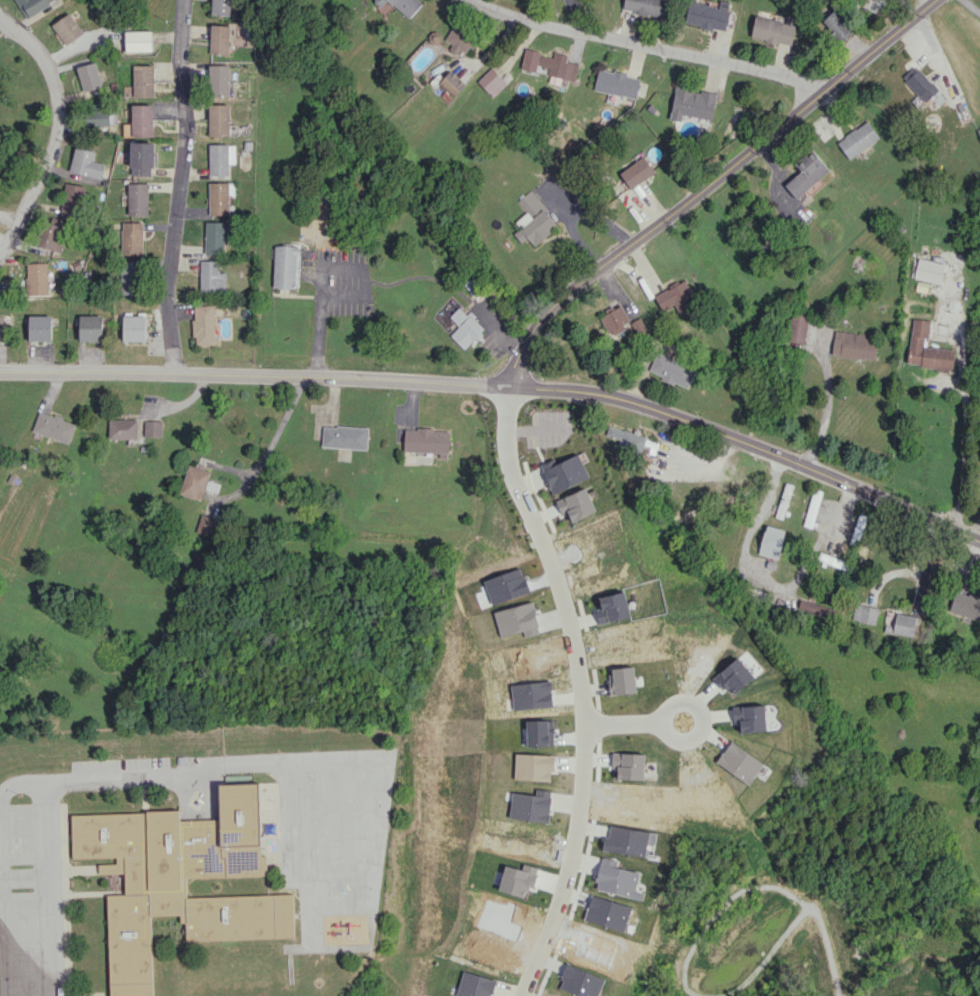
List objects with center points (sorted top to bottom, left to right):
building: (380, 2)
building: (34, 5)
road: (971, 5)
building: (406, 6)
building: (646, 6)
building: (870, 6)
building: (220, 7)
building: (706, 16)
building: (836, 26)
building: (67, 28)
building: (772, 30)
building: (218, 39)
building: (459, 39)
building: (137, 40)
road: (645, 47)
building: (549, 63)
building: (88, 76)
building: (142, 80)
building: (219, 80)
building: (491, 81)
building: (451, 83)
building: (617, 83)
building: (920, 83)
building: (692, 103)
building: (97, 114)
building: (218, 119)
building: (141, 120)
road: (55, 129)
building: (978, 129)
building: (857, 139)
building: (141, 158)
building: (220, 158)
building: (85, 163)
building: (631, 174)
building: (806, 174)
road: (708, 183)
road: (179, 185)
building: (137, 198)
building: (218, 198)
building: (71, 200)
building: (534, 220)
building: (51, 236)
building: (215, 237)
building: (131, 238)
building: (286, 266)
building: (929, 270)
road: (330, 271)
building: (130, 277)
building: (211, 277)
building: (36, 278)
building: (474, 286)
building: (676, 297)
building: (618, 322)
building: (203, 324)
building: (3, 327)
building: (90, 327)
building: (134, 327)
building: (465, 327)
building: (797, 327)
building: (39, 328)
building: (854, 344)
building: (926, 349)
building: (672, 370)
road: (254, 374)
road: (826, 408)
building: (54, 427)
building: (122, 428)
building: (153, 428)
building: (345, 437)
building: (627, 437)
building: (426, 440)
road: (749, 444)
road: (269, 445)
road: (960, 456)
building: (564, 472)
building: (194, 481)
building: (783, 500)
building: (576, 504)
building: (812, 508)
building: (205, 525)
building: (771, 541)
road: (923, 568)
road: (768, 582)
road: (924, 588)
building: (965, 605)
building: (612, 607)
building: (814, 608)
building: (864, 613)
building: (890, 617)
building: (517, 619)
building: (902, 624)
road: (572, 690)
building: (531, 695)
road: (635, 706)
building: (750, 717)
building: (739, 762)
building: (533, 767)
road: (96, 778)
building: (530, 805)
building: (625, 841)
road: (24, 878)
building: (179, 879)
building: (617, 879)
road: (49, 888)
road: (1, 968)
building: (475, 985)

